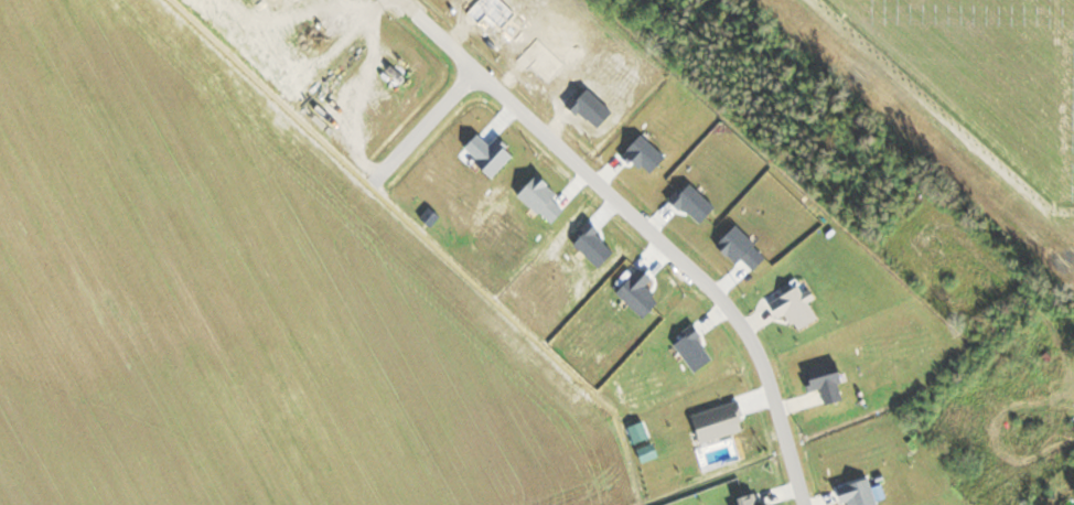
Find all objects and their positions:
road: (429, 127)
road: (656, 239)

